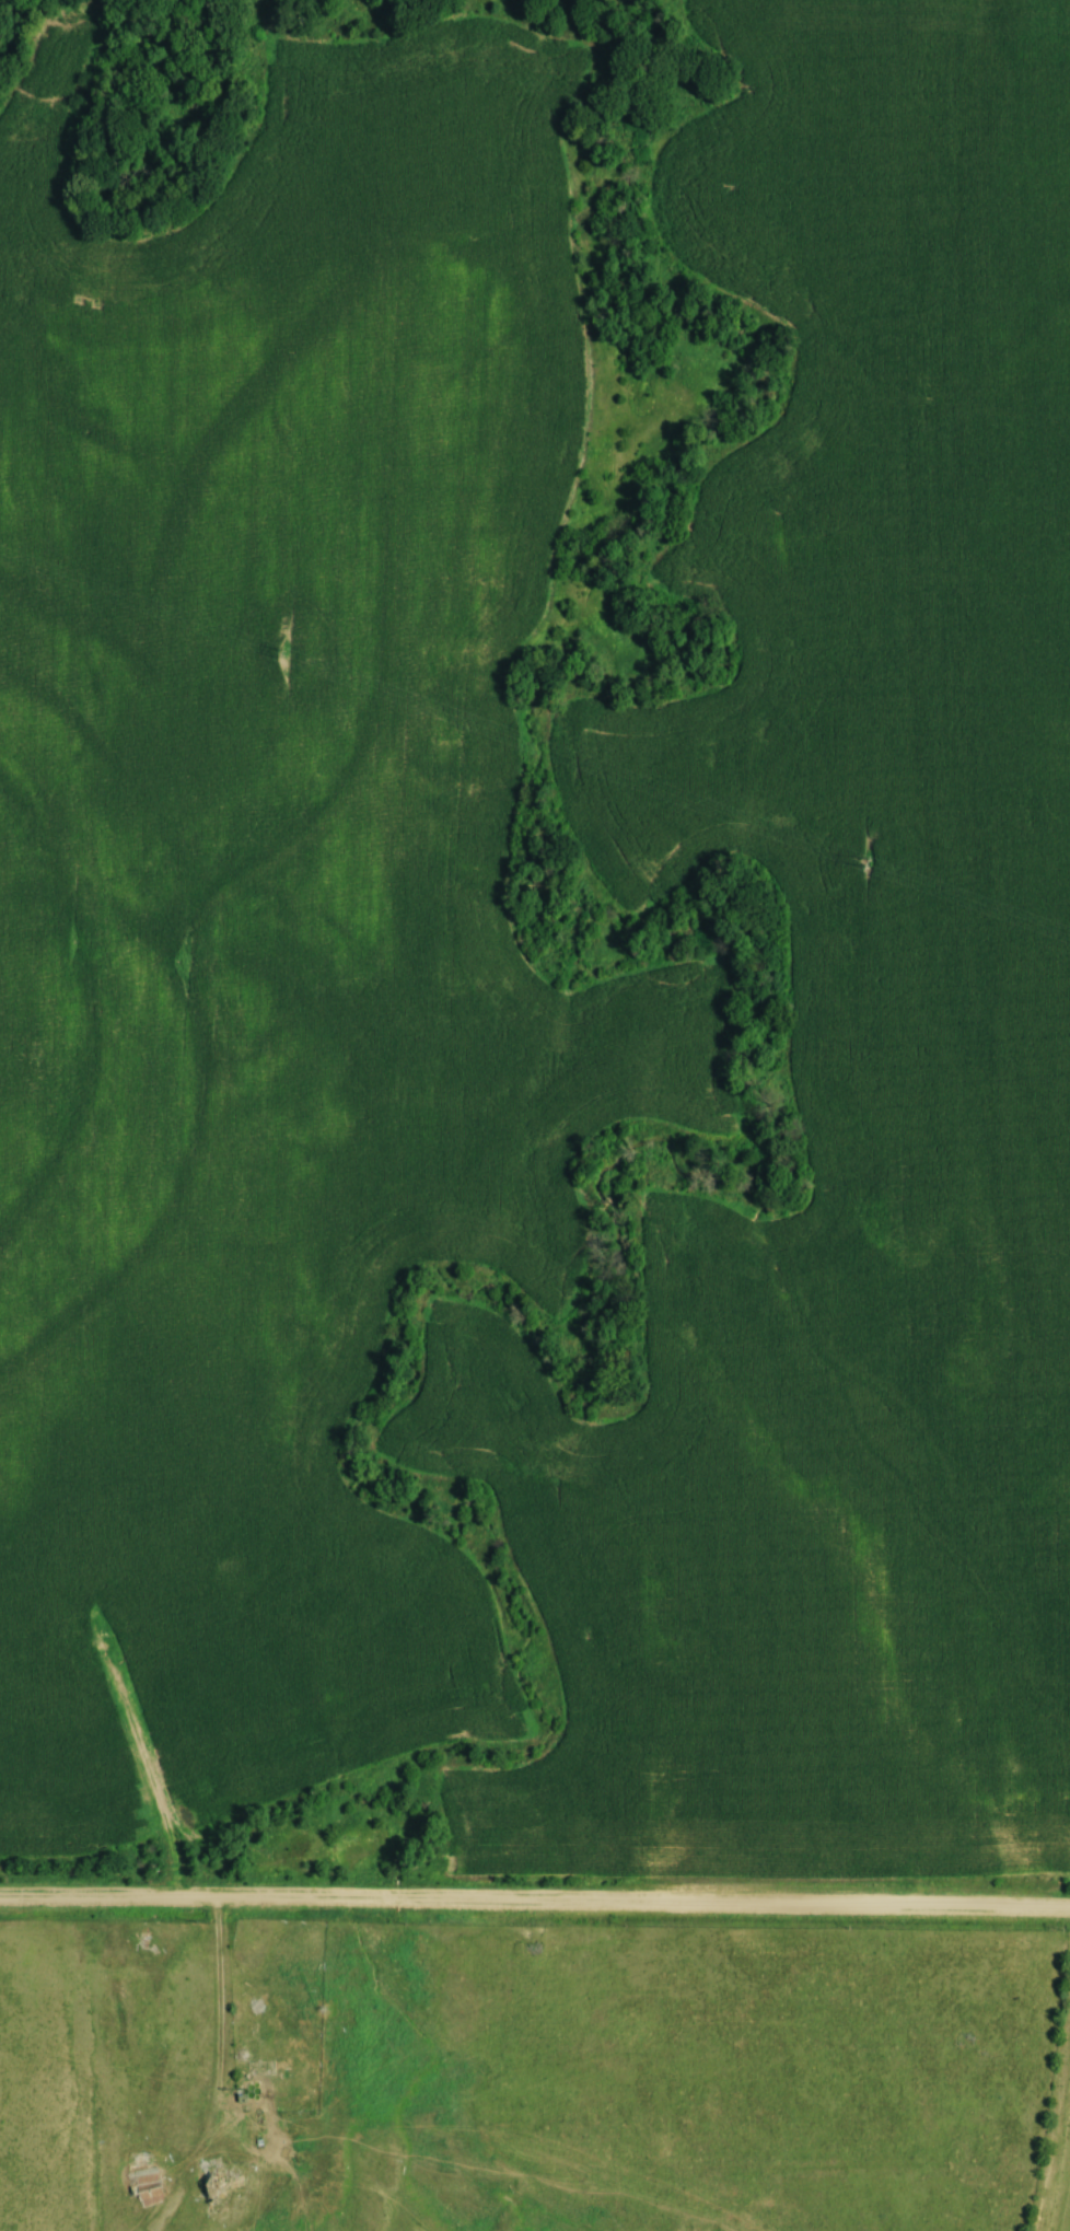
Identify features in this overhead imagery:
road: (534, 1903)
building: (139, 2178)
building: (214, 2188)

